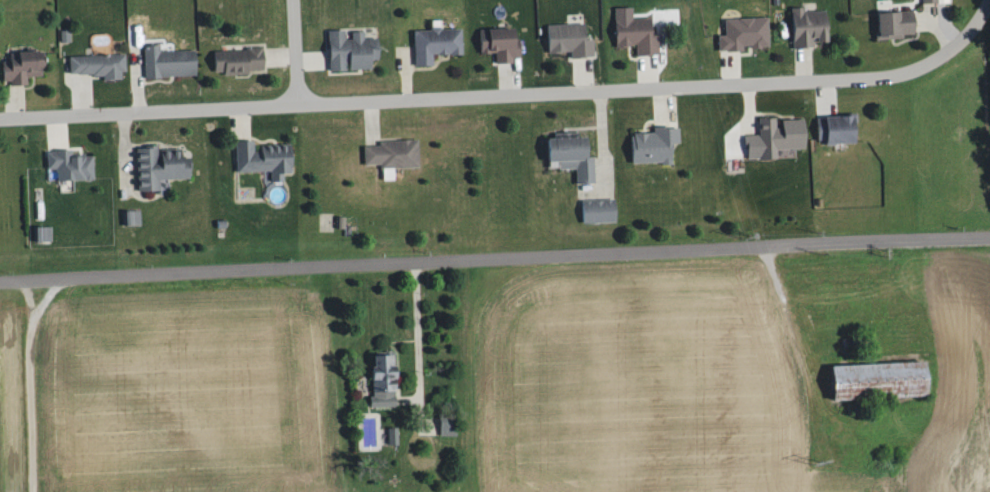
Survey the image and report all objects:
building: (930, 1)
building: (894, 24)
building: (810, 26)
building: (636, 31)
road: (946, 31)
building: (744, 34)
road: (962, 37)
building: (571, 40)
building: (436, 43)
building: (501, 43)
building: (353, 49)
road: (293, 53)
road: (282, 57)
building: (239, 61)
building: (168, 62)
road: (310, 62)
building: (99, 64)
road: (804, 66)
building: (23, 68)
road: (729, 70)
road: (648, 73)
road: (585, 76)
road: (406, 78)
road: (509, 81)
road: (137, 91)
road: (825, 94)
road: (465, 96)
road: (81, 97)
road: (664, 103)
road: (15, 104)
road: (750, 105)
road: (370, 120)
road: (239, 122)
building: (837, 130)
road: (56, 131)
building: (775, 138)
road: (603, 142)
road: (123, 144)
building: (654, 147)
building: (393, 155)
building: (573, 155)
building: (266, 160)
building: (72, 164)
building: (161, 166)
building: (599, 212)
building: (132, 218)
building: (43, 234)
road: (494, 259)
road: (416, 346)
building: (385, 381)
road: (29, 382)
building: (881, 383)
building: (448, 426)

